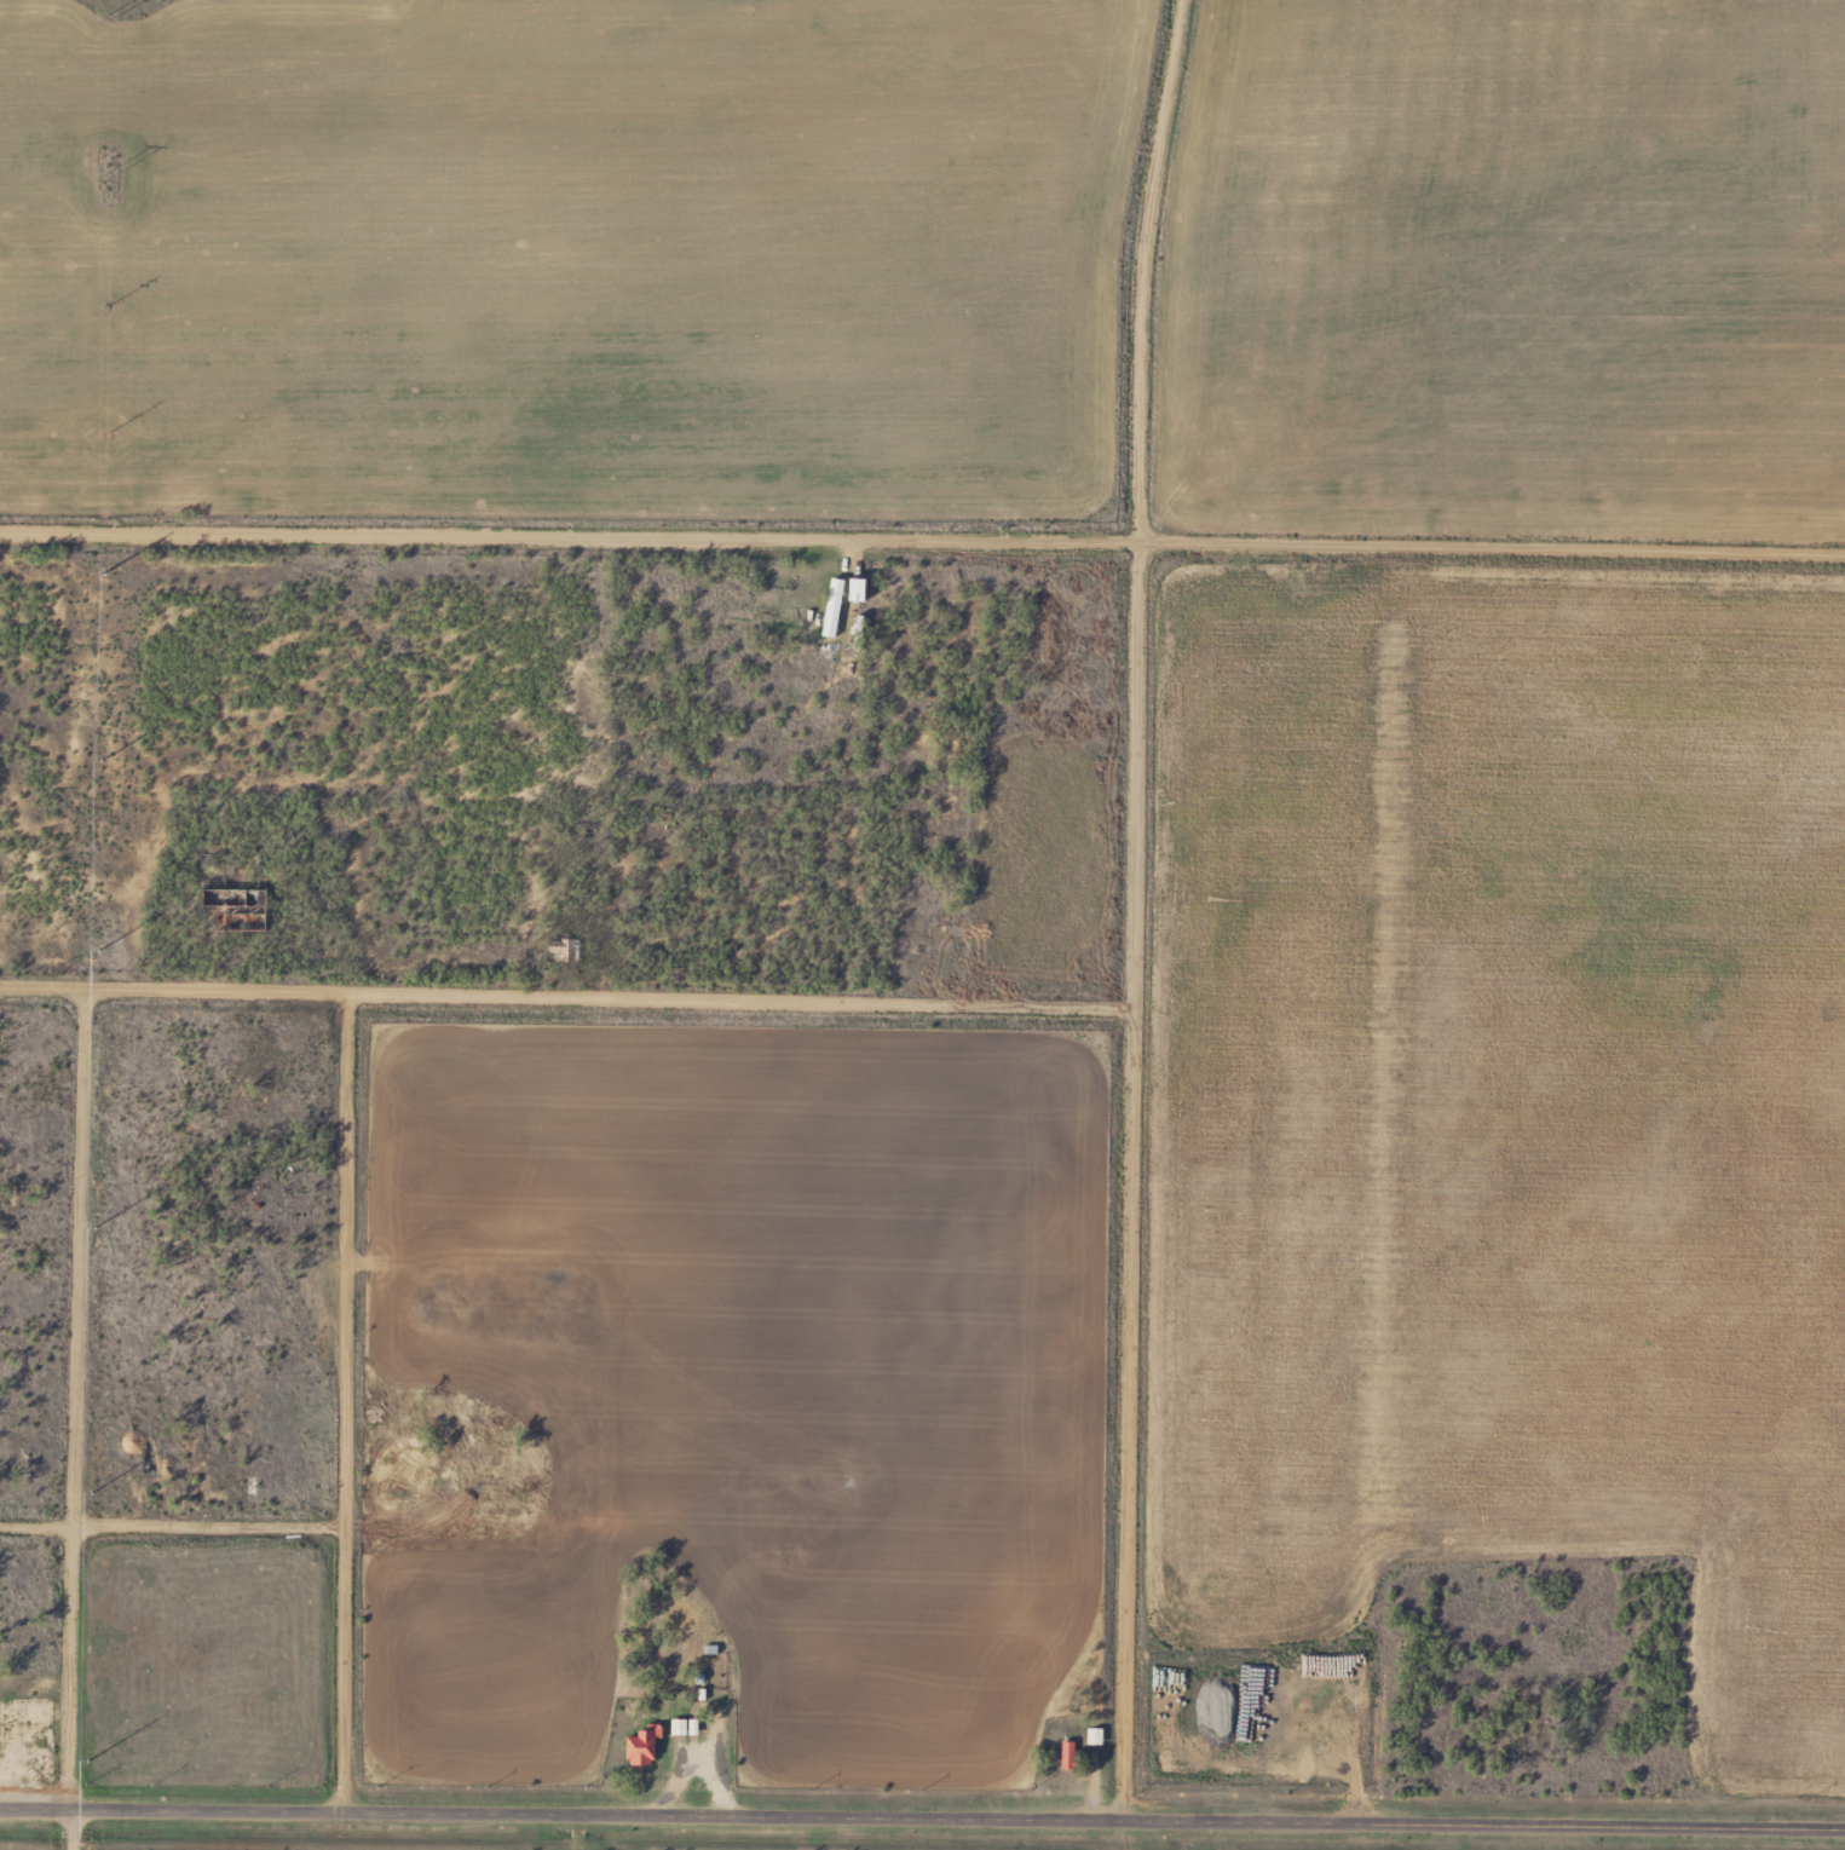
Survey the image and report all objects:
power tower: (110, 17)
power tower: (109, 174)
road: (922, 544)
building: (835, 601)
road: (1131, 909)
building: (916, 953)
road: (564, 1005)
road: (67, 1402)
road: (345, 1408)
building: (281, 1477)
road: (171, 1531)
building: (1089, 1736)
building: (636, 1745)
building: (1062, 1756)
road: (922, 1816)
road: (67, 1833)

